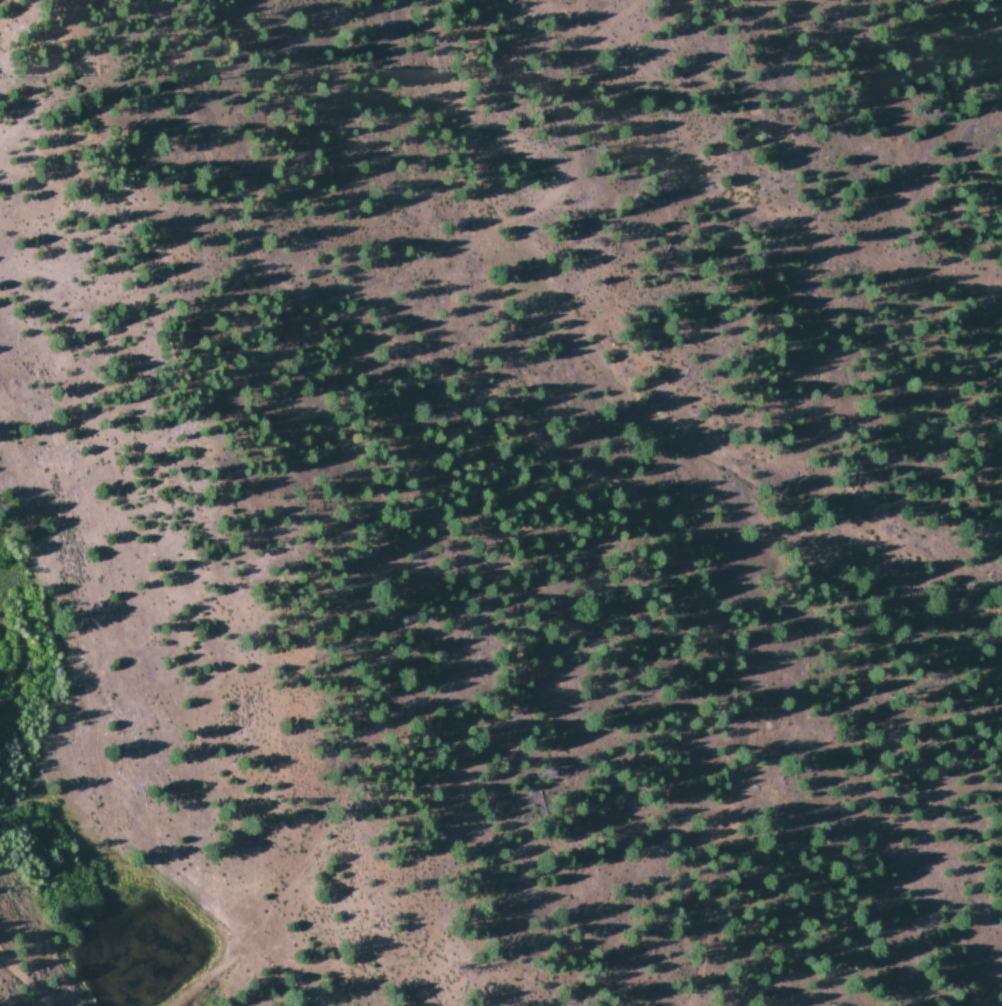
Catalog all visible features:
road: (45, 807)

